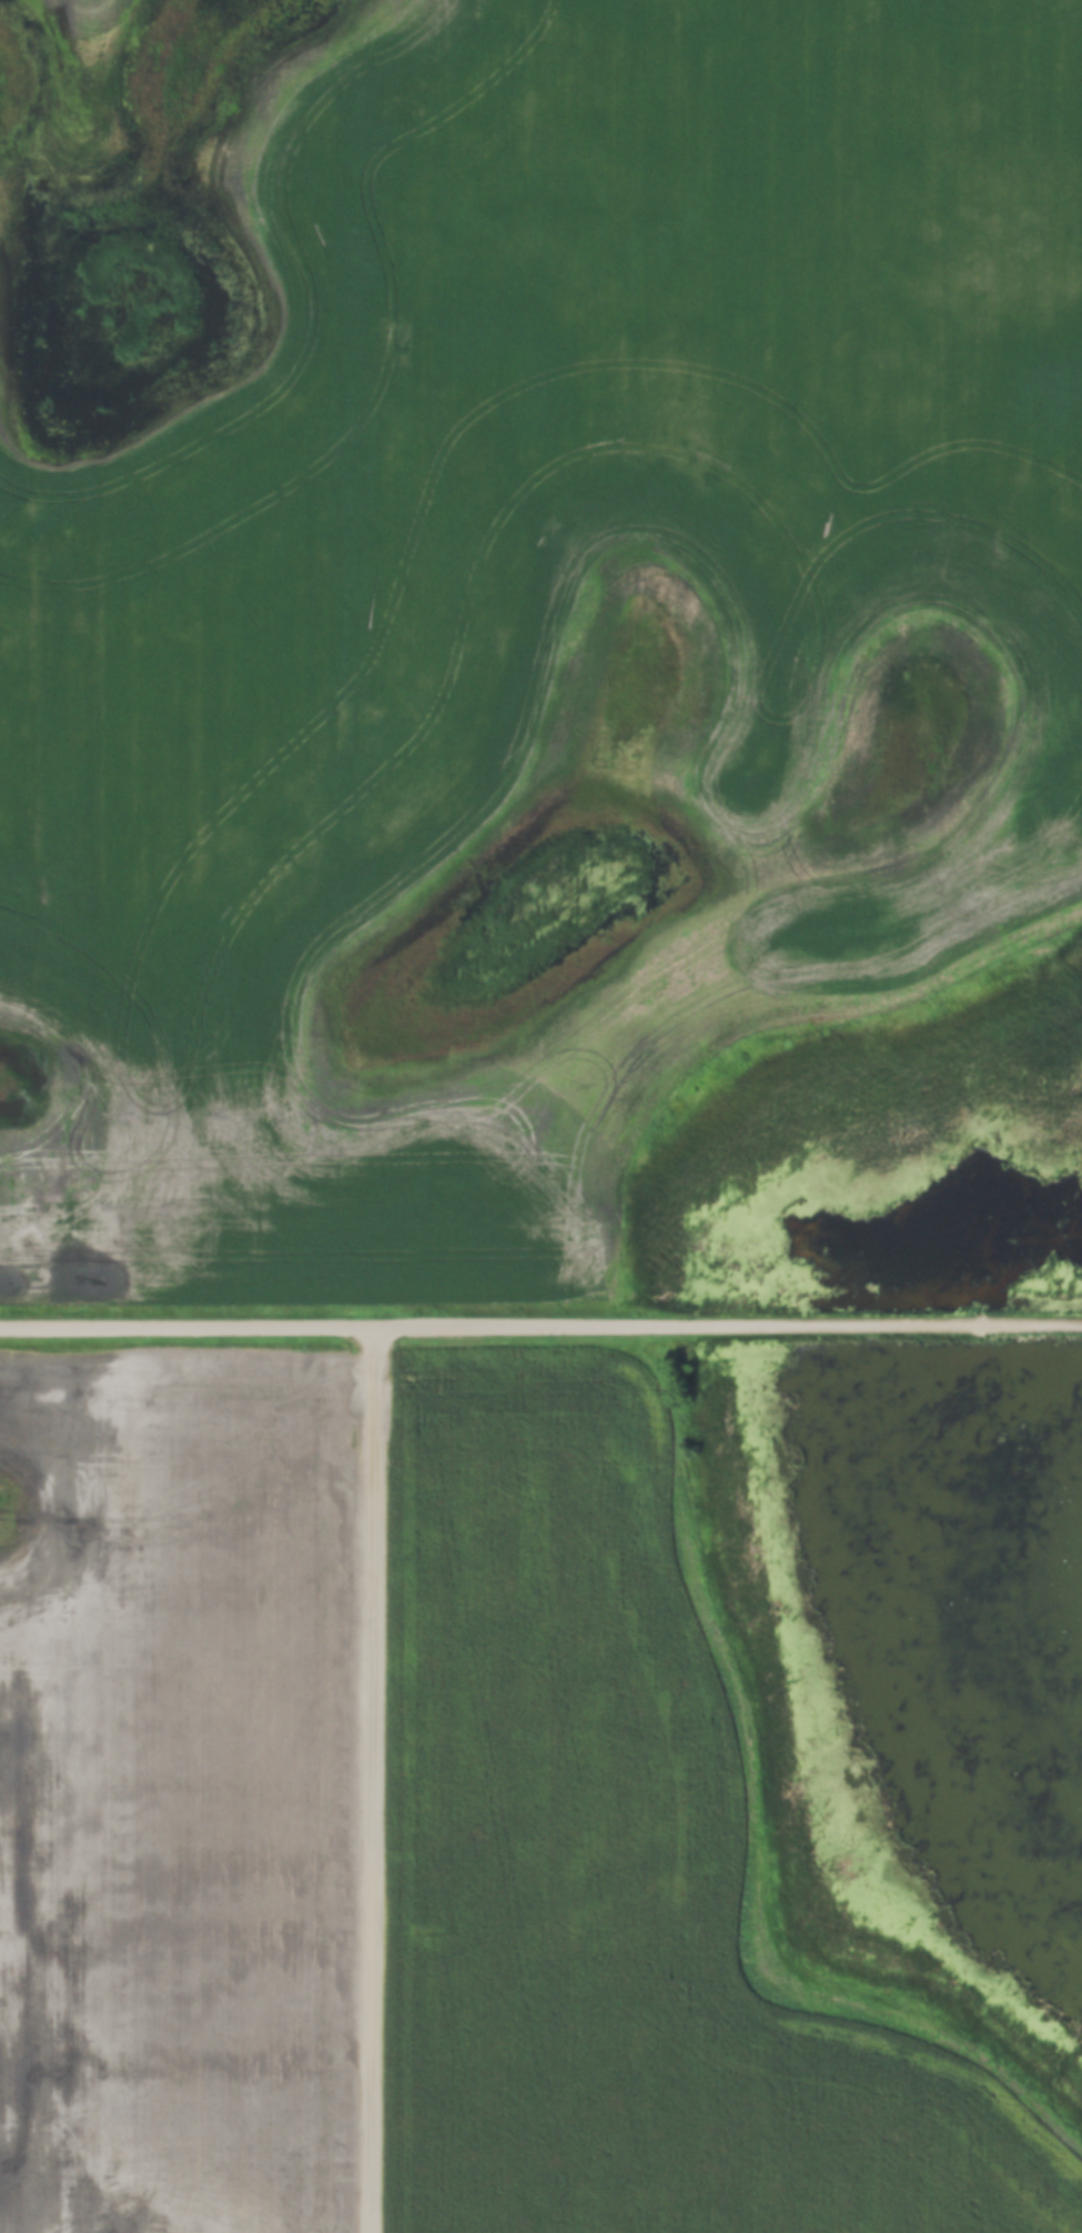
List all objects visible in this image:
road: (540, 1331)

